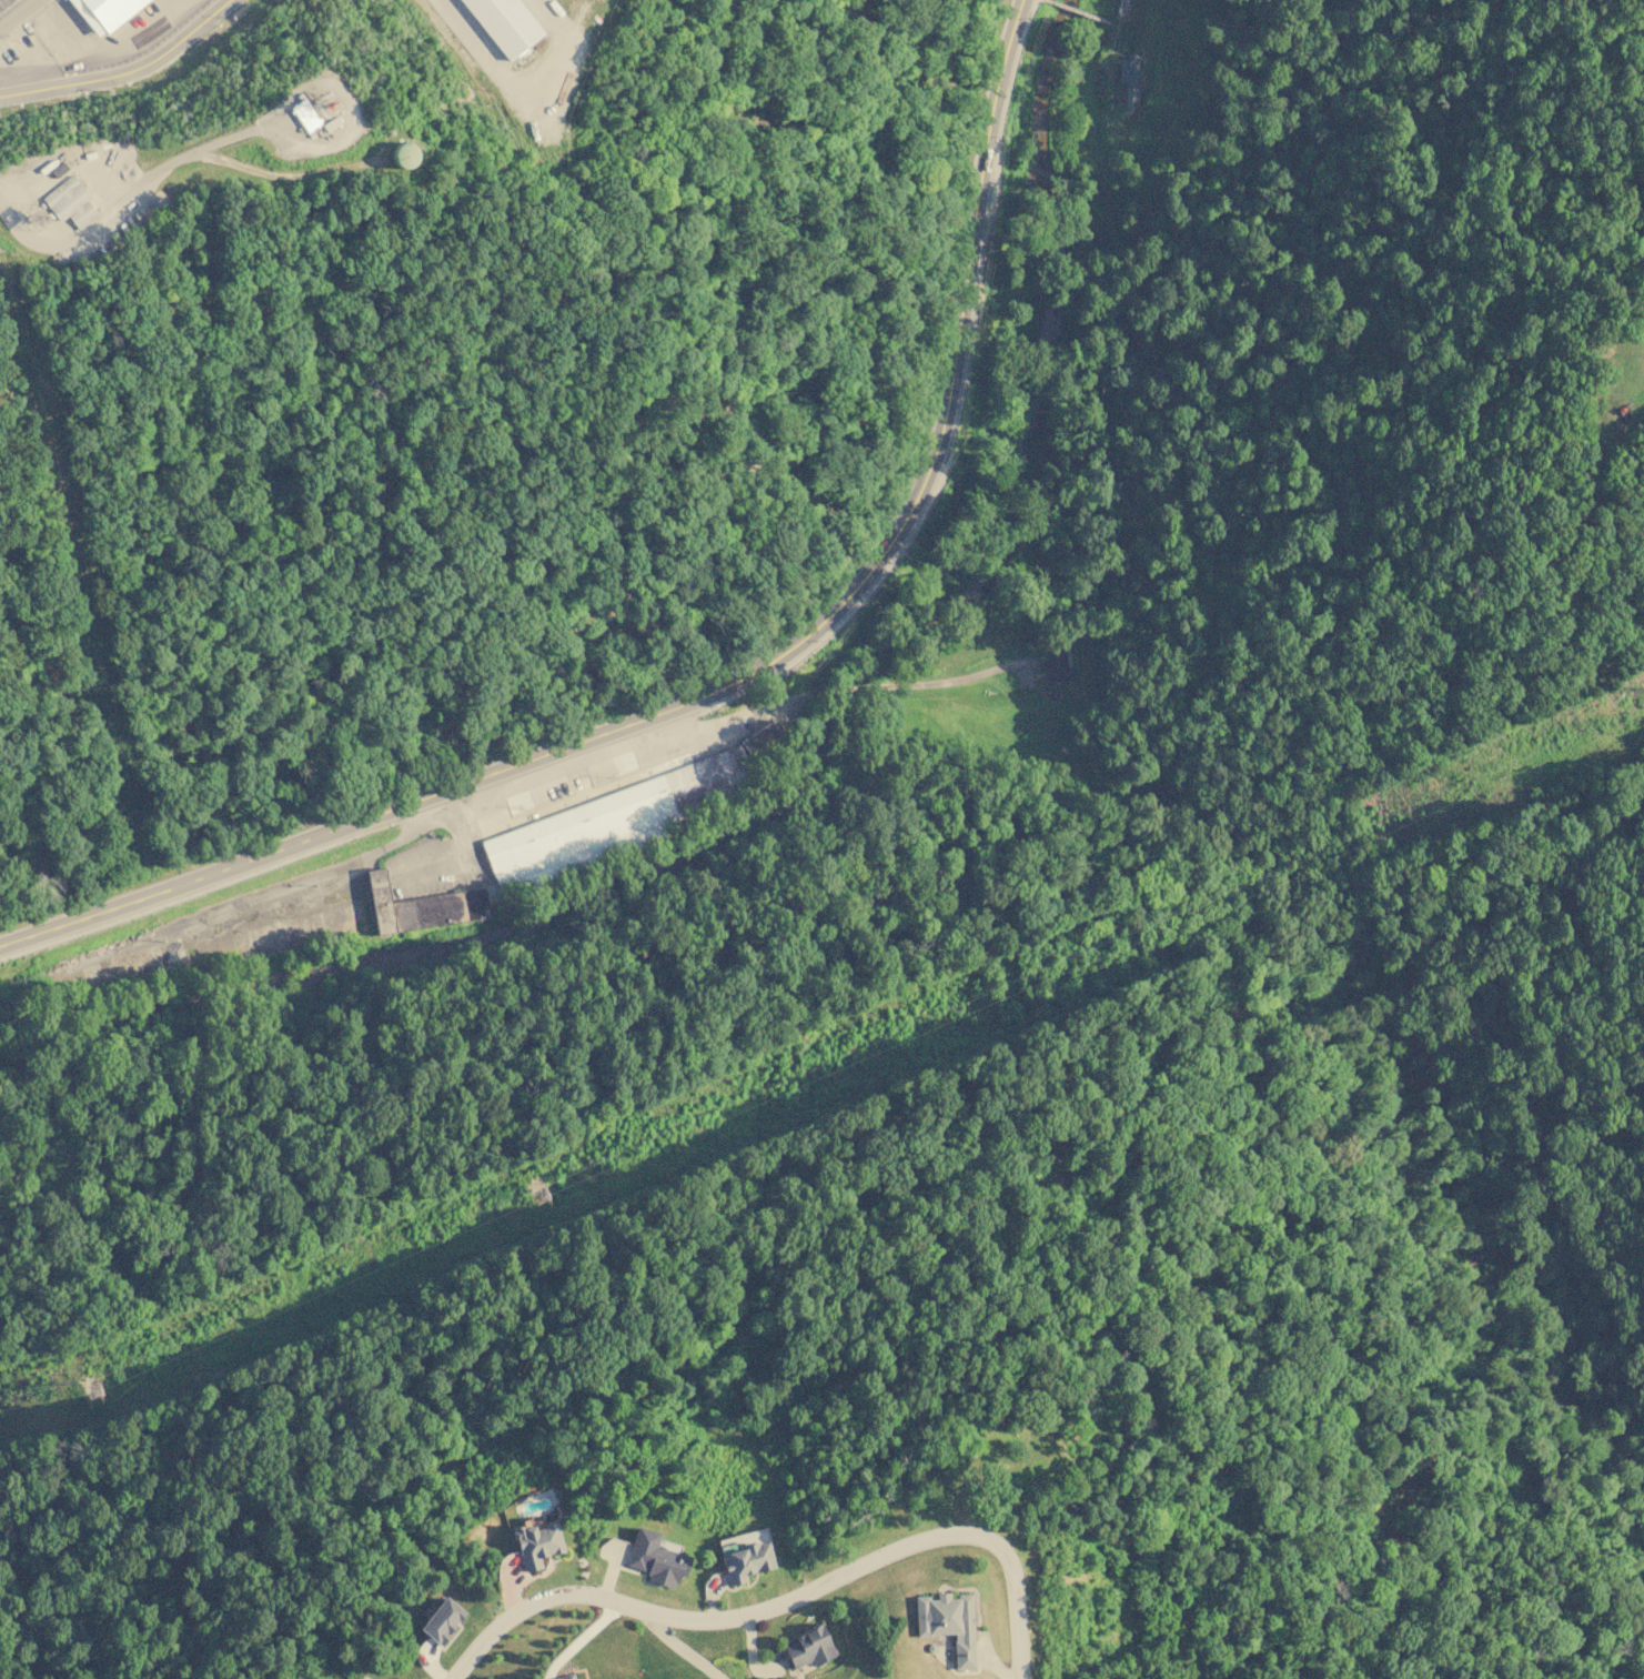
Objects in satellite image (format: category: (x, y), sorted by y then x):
building: (109, 11)
building: (505, 23)
building: (204, 24)
airport apron: (496, 28)
road: (125, 72)
building: (1128, 76)
building: (305, 114)
airport: (260, 117)
water tower: (396, 157)
road: (130, 191)
building: (69, 201)
building: (1055, 665)
road: (732, 683)
building: (618, 816)
river: (967, 818)
building: (421, 906)
building: (536, 1544)
building: (656, 1558)
building: (744, 1559)
road: (787, 1611)
building: (442, 1620)
building: (948, 1622)
building: (808, 1648)
building: (564, 1676)

